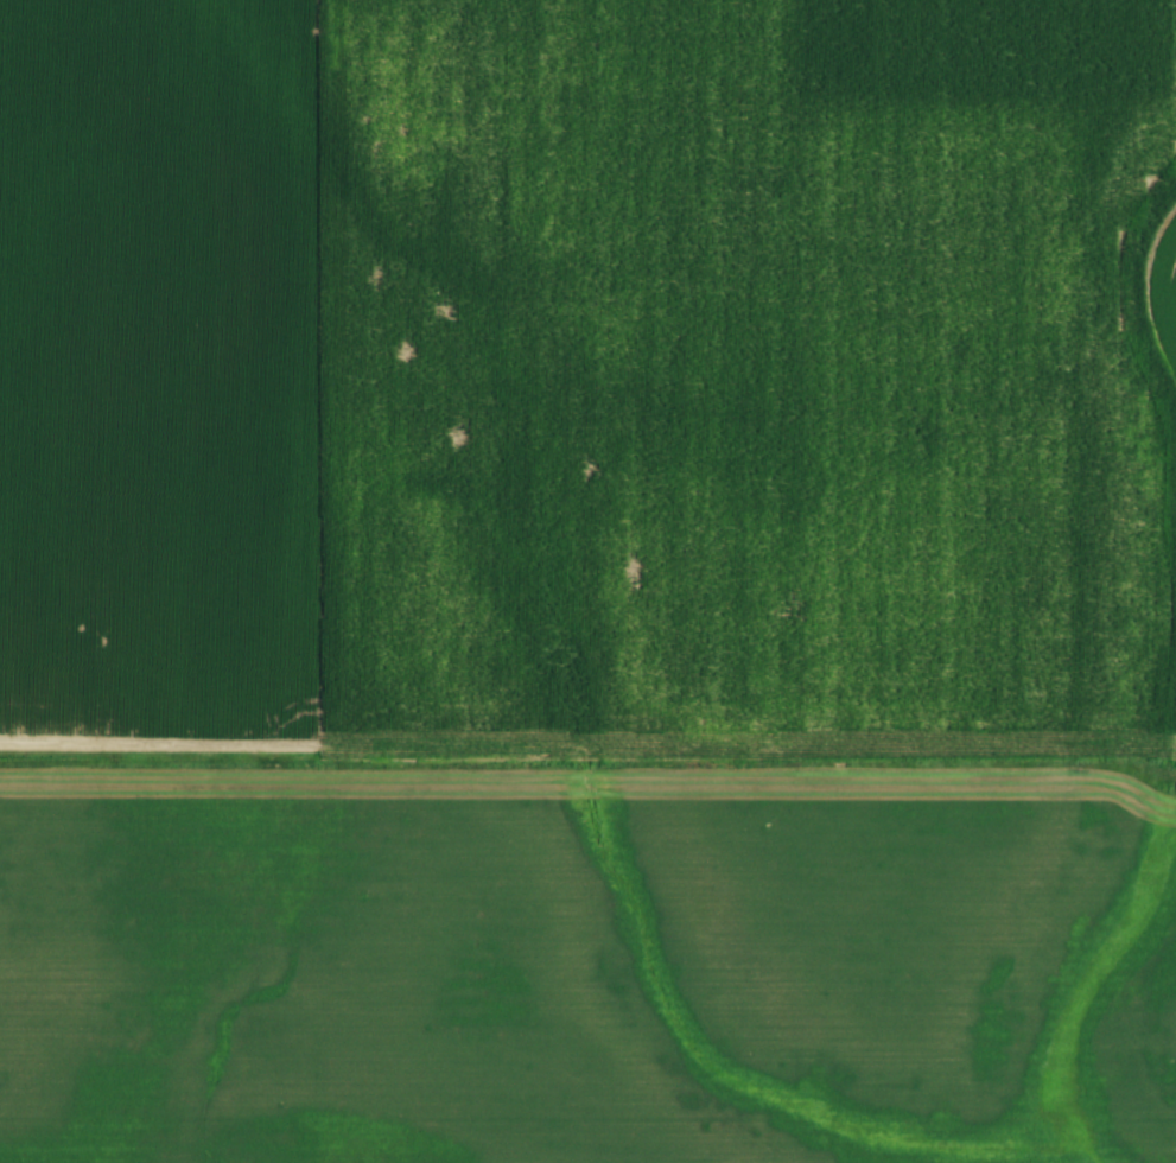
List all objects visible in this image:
crop: (155, 375)

